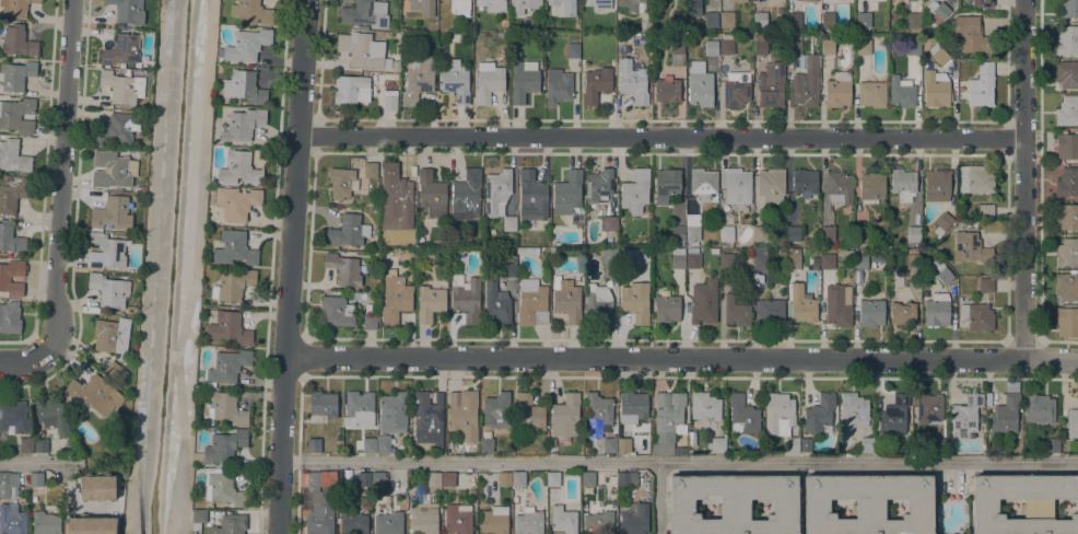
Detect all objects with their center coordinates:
building: (738, 0)
building: (806, 0)
building: (825, 0)
building: (909, 0)
building: (985, 3)
building: (491, 4)
building: (598, 4)
building: (630, 4)
building: (524, 5)
building: (422, 7)
building: (458, 7)
building: (563, 7)
building: (14, 8)
building: (694, 8)
building: (1068, 8)
building: (127, 10)
building: (251, 11)
building: (365, 13)
building: (936, 14)
building: (677, 19)
building: (759, 19)
building: (863, 19)
building: (711, 20)
building: (726, 20)
building: (793, 20)
building: (828, 20)
building: (911, 20)
building: (504, 22)
building: (362, 27)
building: (970, 34)
building: (1067, 40)
building: (16, 42)
building: (726, 44)
building: (247, 45)
building: (760, 45)
building: (793, 45)
building: (827, 45)
building: (677, 46)
building: (863, 47)
building: (913, 47)
building: (711, 48)
building: (121, 49)
building: (363, 50)
building: (572, 50)
building: (938, 54)
building: (516, 55)
building: (395, 59)
building: (395, 69)
building: (15, 74)
building: (1066, 74)
building: (418, 79)
building: (523, 80)
building: (455, 81)
building: (488, 81)
building: (631, 81)
building: (806, 83)
building: (595, 84)
building: (699, 84)
building: (558, 85)
building: (771, 85)
building: (981, 85)
building: (122, 86)
building: (244, 88)
building: (351, 89)
building: (736, 89)
building: (936, 89)
building: (666, 90)
building: (901, 92)
building: (836, 93)
building: (871, 94)
building: (389, 100)
building: (1067, 111)
building: (17, 115)
building: (242, 125)
building: (117, 130)
road: (660, 137)
building: (1067, 146)
building: (13, 156)
building: (113, 170)
building: (238, 170)
building: (370, 170)
road: (63, 176)
building: (975, 178)
road: (1026, 178)
building: (804, 182)
building: (1067, 182)
building: (341, 183)
building: (703, 183)
building: (598, 184)
building: (666, 185)
building: (771, 185)
building: (871, 185)
building: (903, 185)
building: (937, 185)
building: (737, 186)
building: (142, 188)
building: (839, 188)
building: (635, 190)
building: (496, 191)
building: (566, 193)
building: (431, 194)
building: (466, 195)
building: (12, 196)
building: (531, 196)
building: (395, 198)
building: (235, 202)
building: (113, 211)
building: (985, 211)
building: (1066, 216)
building: (692, 219)
building: (509, 223)
building: (610, 223)
building: (942, 223)
building: (348, 231)
building: (692, 233)
building: (726, 233)
building: (760, 233)
building: (793, 233)
building: (827, 233)
building: (913, 233)
building: (678, 234)
building: (10, 237)
building: (970, 247)
building: (233, 248)
building: (527, 249)
building: (105, 251)
building: (849, 253)
building: (1067, 253)
building: (632, 256)
building: (692, 258)
building: (760, 258)
building: (677, 259)
building: (793, 259)
building: (608, 260)
building: (726, 260)
building: (860, 260)
building: (913, 260)
building: (827, 262)
road: (289, 266)
road: (194, 268)
building: (343, 268)
building: (509, 269)
building: (941, 270)
building: (4, 279)
building: (233, 285)
building: (985, 285)
building: (1067, 286)
building: (109, 290)
building: (466, 298)
building: (394, 299)
building: (566, 299)
building: (635, 301)
building: (703, 301)
building: (801, 302)
building: (429, 303)
building: (496, 303)
building: (531, 303)
building: (598, 304)
building: (837, 304)
building: (666, 307)
building: (336, 311)
building: (937, 311)
building: (736, 312)
building: (770, 312)
building: (870, 313)
building: (902, 314)
building: (976, 315)
building: (10, 317)
building: (368, 322)
building: (1067, 322)
building: (229, 327)
building: (112, 335)
road: (171, 357)
road: (24, 358)
road: (681, 358)
building: (226, 367)
building: (115, 372)
building: (94, 394)
building: (323, 403)
building: (704, 406)
building: (632, 407)
building: (226, 408)
building: (854, 408)
building: (928, 408)
building: (1039, 408)
building: (358, 409)
building: (496, 410)
building: (528, 411)
building: (599, 411)
building: (392, 413)
building: (778, 413)
building: (51, 414)
building: (742, 414)
building: (819, 414)
building: (893, 414)
building: (965, 415)
building: (1005, 415)
building: (13, 416)
building: (462, 416)
building: (565, 416)
building: (427, 418)
building: (668, 420)
building: (1073, 422)
building: (694, 431)
building: (383, 443)
building: (40, 444)
building: (368, 444)
building: (485, 444)
building: (609, 444)
building: (718, 444)
building: (792, 444)
building: (866, 444)
building: (937, 444)
building: (1052, 444)
building: (25, 445)
building: (314, 445)
building: (623, 445)
building: (806, 445)
building: (221, 446)
road: (43, 461)
road: (678, 461)
building: (400, 474)
building: (434, 478)
building: (447, 478)
building: (517, 478)
building: (552, 478)
building: (588, 478)
building: (36, 479)
building: (312, 479)
building: (363, 479)
building: (504, 479)
building: (626, 479)
building: (8, 481)
building: (377, 484)
building: (97, 487)
building: (223, 488)
road: (657, 498)
road: (128, 503)
building: (733, 503)
building: (867, 503)
building: (1038, 506)
building: (321, 507)
building: (199, 514)
building: (458, 518)
building: (387, 519)
building: (423, 519)
building: (633, 519)
building: (11, 520)
building: (494, 520)
building: (563, 520)
building: (528, 522)
building: (45, 523)
building: (352, 523)
building: (598, 523)
building: (232, 524)
building: (90, 525)

